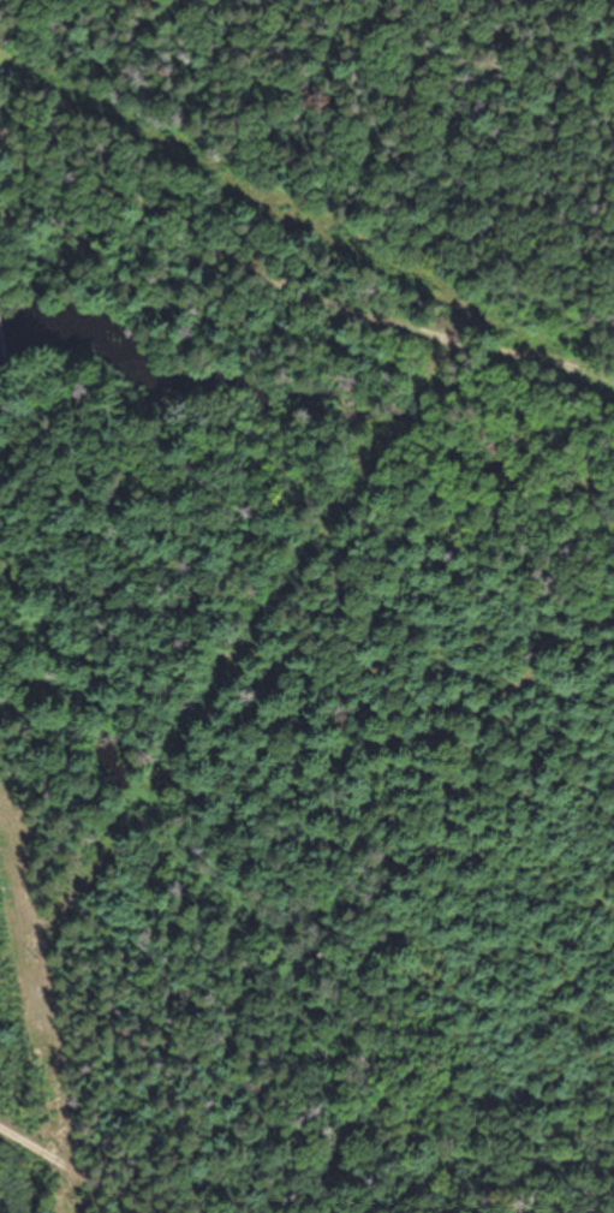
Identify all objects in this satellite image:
road: (300, 332)

